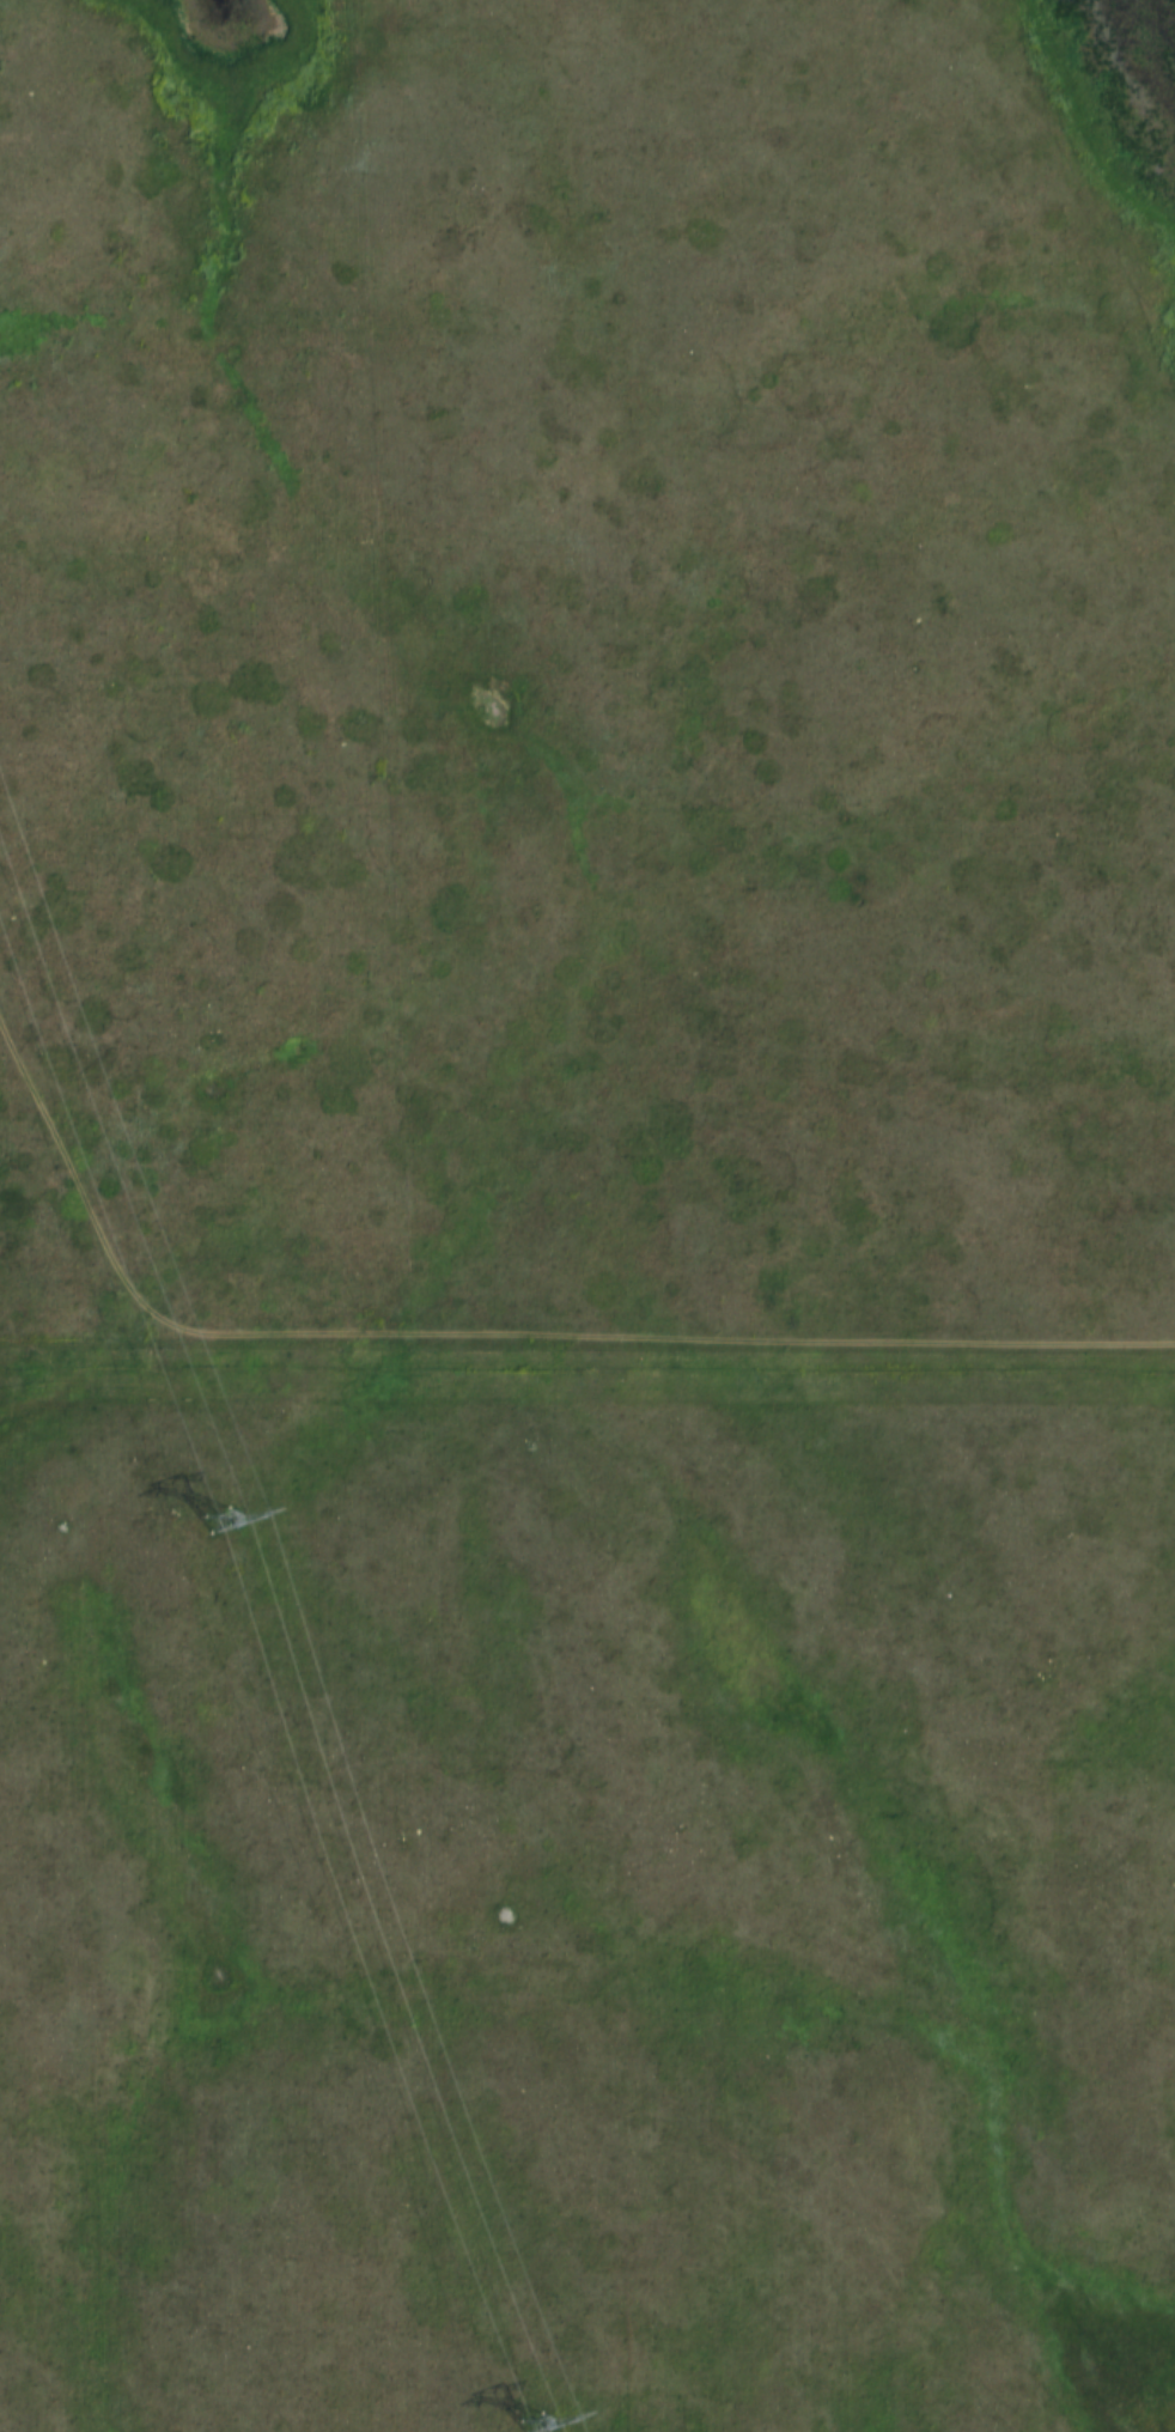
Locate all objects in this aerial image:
power tower: (221, 1521)
power tower: (536, 2425)

